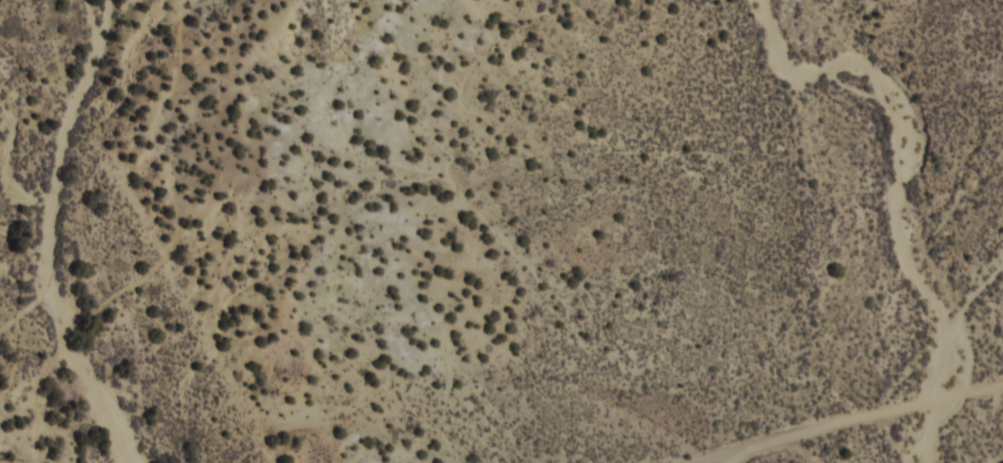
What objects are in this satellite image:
river: (915, 209)
river: (30, 239)
road: (708, 265)
road: (874, 411)
road: (738, 454)

